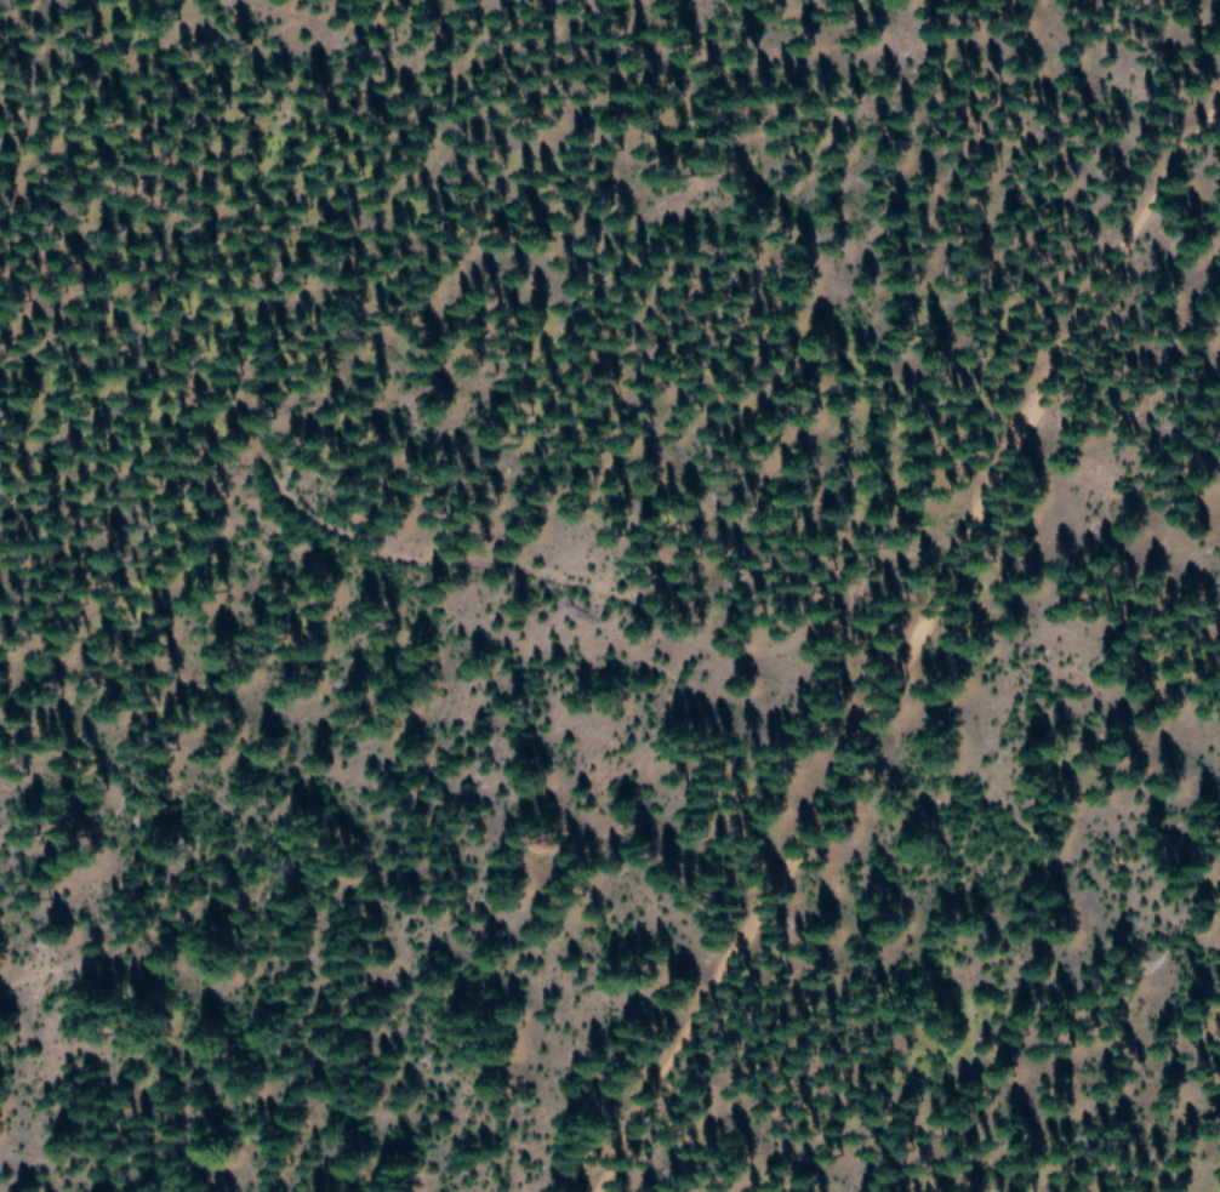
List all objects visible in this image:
road: (920, 709)

